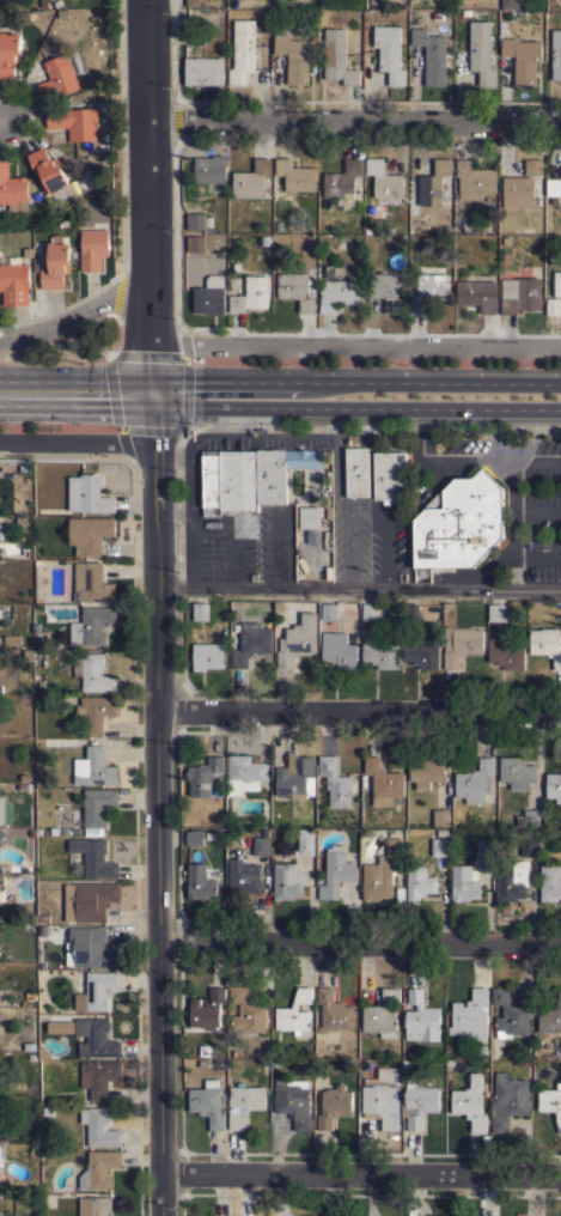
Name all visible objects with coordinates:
building: (212, 2)
building: (195, 4)
building: (510, 4)
building: (465, 13)
building: (437, 16)
building: (243, 50)
building: (389, 51)
building: (482, 51)
building: (10, 53)
building: (432, 54)
building: (556, 54)
building: (295, 56)
building: (337, 56)
building: (523, 57)
building: (205, 71)
building: (59, 75)
road: (354, 116)
road: (1, 120)
building: (75, 122)
building: (533, 166)
building: (211, 168)
building: (49, 172)
building: (295, 175)
building: (252, 178)
building: (474, 178)
building: (383, 180)
building: (342, 181)
building: (433, 182)
building: (554, 186)
building: (12, 189)
building: (523, 191)
road: (148, 199)
building: (554, 200)
building: (340, 202)
building: (368, 209)
building: (197, 220)
building: (278, 225)
building: (526, 229)
building: (366, 230)
building: (266, 239)
building: (196, 243)
building: (93, 248)
building: (56, 262)
building: (13, 281)
building: (557, 284)
building: (335, 288)
building: (297, 290)
building: (428, 290)
building: (386, 292)
building: (251, 293)
building: (477, 293)
building: (520, 294)
building: (211, 296)
building: (553, 306)
road: (81, 311)
road: (356, 341)
road: (355, 383)
road: (77, 396)
traffic signals: (153, 397)
road: (355, 408)
road: (78, 442)
building: (304, 458)
building: (356, 472)
building: (389, 474)
building: (272, 475)
building: (228, 481)
building: (87, 494)
building: (38, 501)
building: (309, 517)
building: (459, 523)
building: (24, 528)
building: (90, 534)
building: (511, 574)
building: (91, 583)
road: (359, 588)
building: (201, 610)
building: (330, 610)
building: (370, 612)
building: (410, 612)
building: (495, 613)
building: (91, 625)
building: (38, 636)
building: (11, 639)
building: (458, 639)
building: (297, 640)
building: (252, 643)
building: (547, 644)
building: (339, 650)
building: (379, 651)
building: (506, 652)
building: (207, 656)
building: (422, 656)
building: (92, 671)
building: (0, 687)
road: (360, 711)
building: (94, 712)
building: (45, 741)
building: (61, 742)
building: (93, 767)
building: (425, 772)
building: (517, 772)
building: (245, 773)
building: (203, 777)
building: (295, 777)
building: (383, 778)
building: (335, 782)
building: (476, 782)
building: (554, 785)
building: (19, 786)
building: (26, 786)
road: (158, 805)
building: (94, 809)
building: (0, 810)
building: (440, 817)
building: (529, 817)
building: (53, 829)
building: (37, 831)
building: (2, 837)
building: (195, 838)
building: (305, 841)
building: (262, 844)
building: (439, 846)
building: (483, 847)
building: (529, 847)
building: (94, 857)
building: (5, 868)
building: (336, 871)
building: (380, 873)
building: (243, 878)
building: (288, 880)
building: (511, 880)
building: (200, 882)
building: (419, 882)
building: (550, 882)
building: (464, 883)
building: (2, 888)
building: (89, 900)
road: (359, 943)
building: (92, 947)
building: (96, 990)
building: (30, 995)
building: (207, 1009)
building: (246, 1011)
building: (333, 1011)
building: (295, 1014)
building: (382, 1014)
building: (508, 1014)
building: (471, 1015)
building: (551, 1016)
building: (421, 1017)
building: (60, 1026)
building: (96, 1038)
building: (30, 1045)
building: (98, 1077)
building: (508, 1100)
building: (294, 1101)
building: (551, 1101)
building: (208, 1102)
building: (419, 1102)
building: (470, 1102)
building: (244, 1103)
building: (380, 1103)
building: (334, 1105)
building: (48, 1111)
building: (99, 1126)
building: (1, 1154)
building: (99, 1168)
road: (361, 1178)
building: (94, 1205)
building: (0, 1215)

